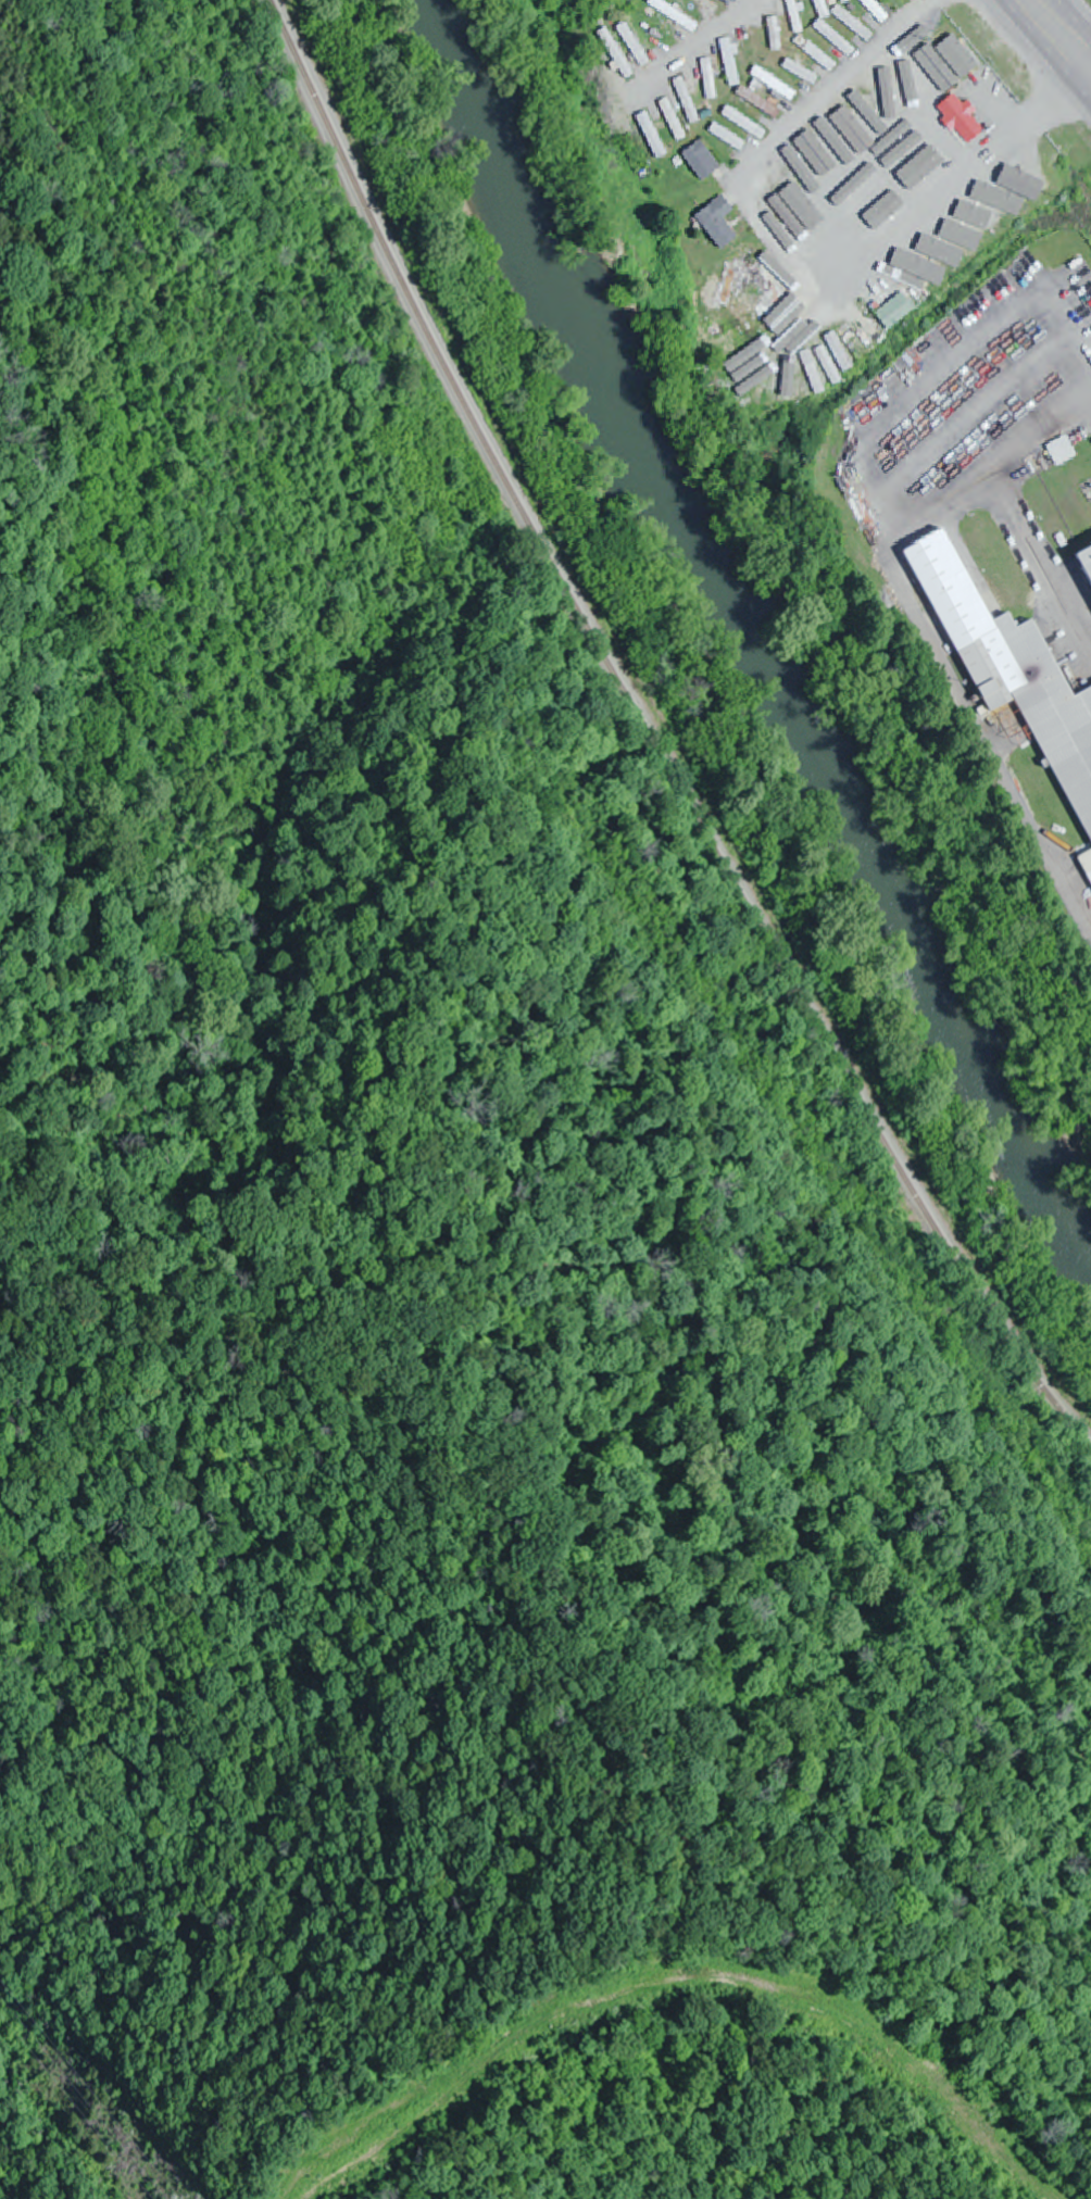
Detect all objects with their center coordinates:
building: (843, 0)
building: (708, 5)
building: (823, 8)
building: (876, 11)
road: (1077, 13)
building: (794, 15)
building: (675, 16)
building: (854, 25)
building: (775, 35)
building: (835, 39)
building: (757, 43)
building: (635, 47)
road: (698, 51)
road: (1045, 52)
building: (816, 53)
building: (730, 63)
building: (941, 73)
building: (801, 74)
building: (710, 80)
building: (775, 85)
building: (886, 93)
building: (687, 102)
building: (764, 106)
building: (963, 121)
building: (673, 122)
road: (795, 124)
building: (744, 125)
building: (869, 131)
building: (928, 134)
building: (652, 137)
building: (728, 139)
building: (923, 154)
building: (844, 158)
building: (702, 163)
building: (1021, 177)
building: (901, 178)
building: (853, 193)
building: (1002, 194)
building: (863, 206)
building: (980, 212)
building: (923, 213)
building: (719, 224)
building: (806, 224)
building: (954, 225)
building: (869, 229)
building: (936, 241)
building: (842, 255)
building: (904, 266)
building: (764, 290)
building: (896, 313)
building: (852, 326)
building: (1063, 452)
building: (1087, 558)
river: (755, 620)
building: (1041, 705)
railway: (643, 719)

